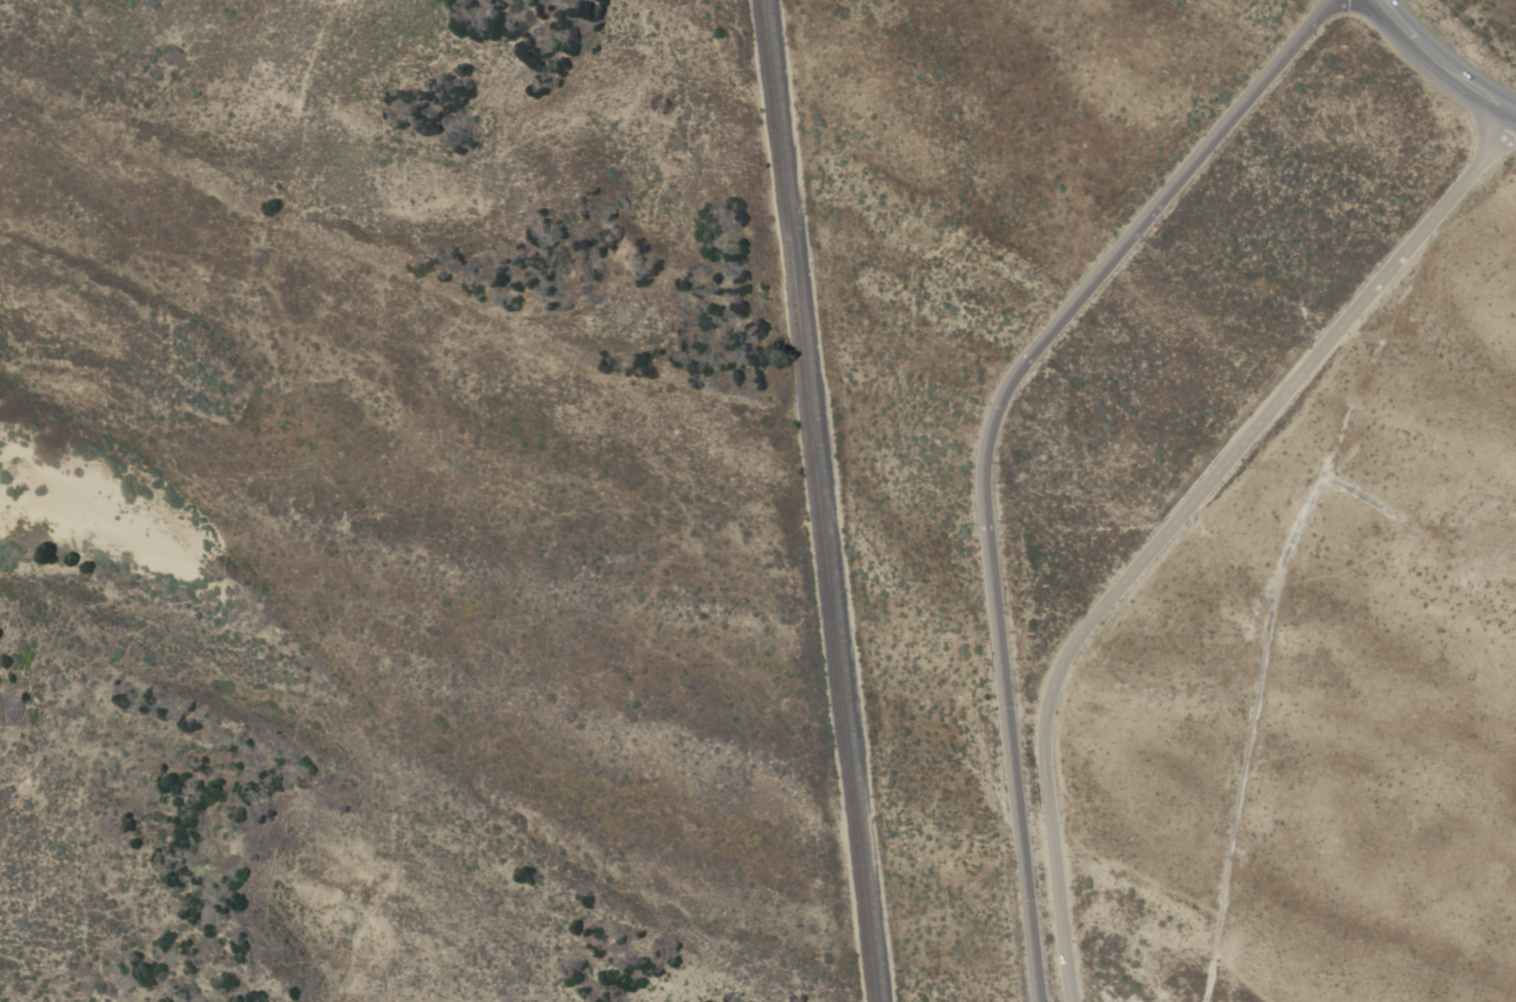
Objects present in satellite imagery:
road: (1439, 66)
road: (991, 441)
railway: (828, 500)
railway: (817, 501)
park: (381, 512)
road: (1171, 526)

